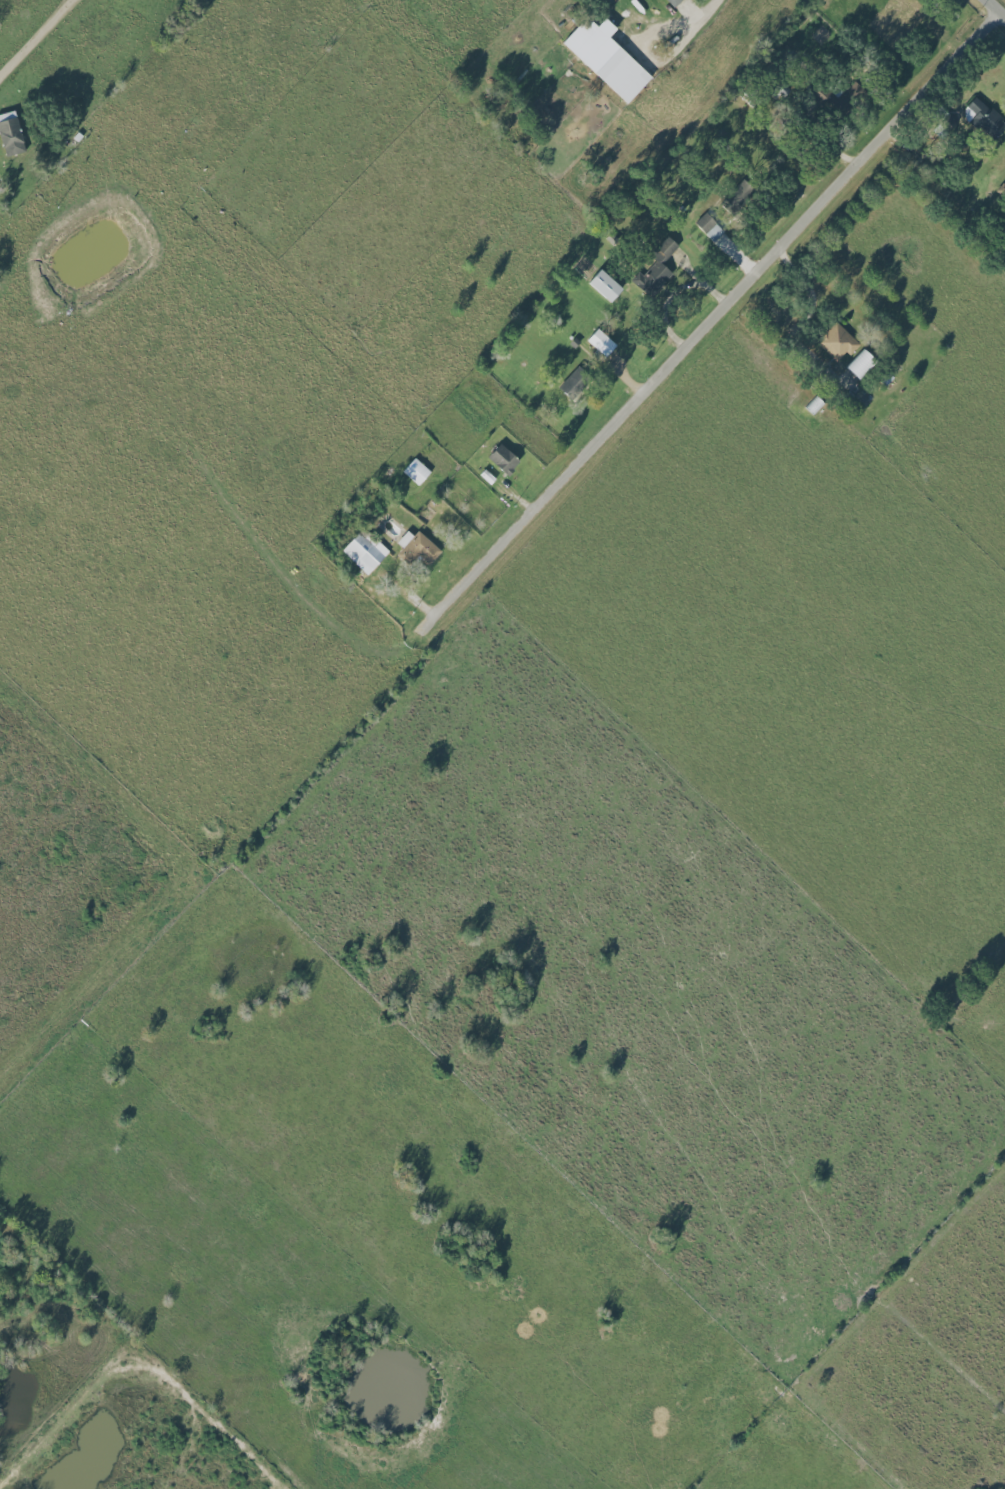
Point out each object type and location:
building: (674, 2)
road: (998, 5)
road: (35, 36)
building: (607, 58)
building: (984, 118)
building: (741, 194)
building: (709, 227)
building: (656, 269)
building: (605, 285)
road: (813, 298)
road: (715, 319)
building: (602, 342)
building: (837, 342)
building: (861, 364)
building: (574, 382)
building: (815, 405)
building: (504, 459)
building: (416, 471)
building: (416, 547)
building: (366, 551)

